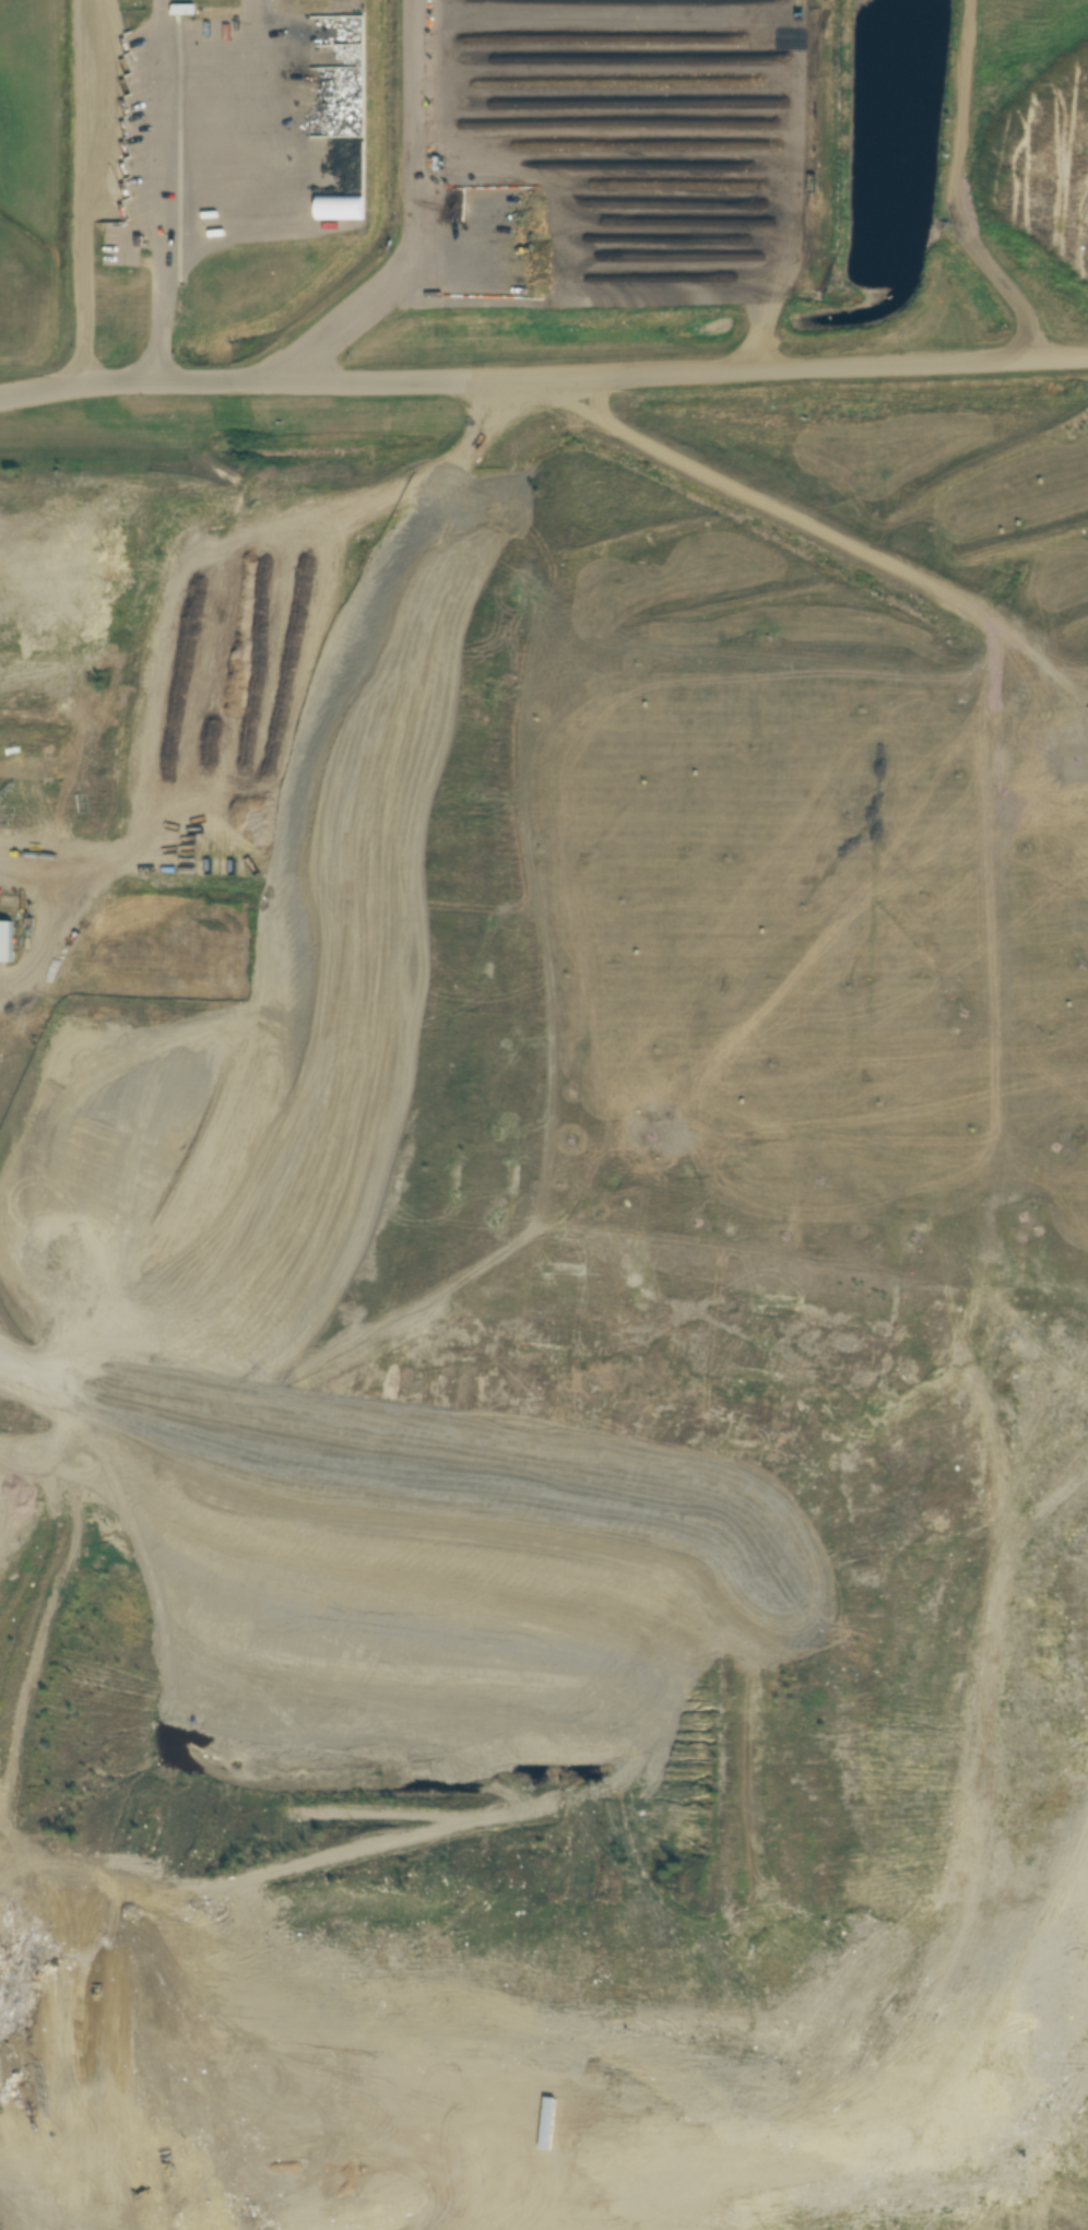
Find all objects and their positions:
building: (182, 10)
road: (163, 191)
road: (82, 194)
building: (119, 207)
road: (416, 221)
road: (543, 369)
building: (10, 941)
landfill: (535, 1381)

